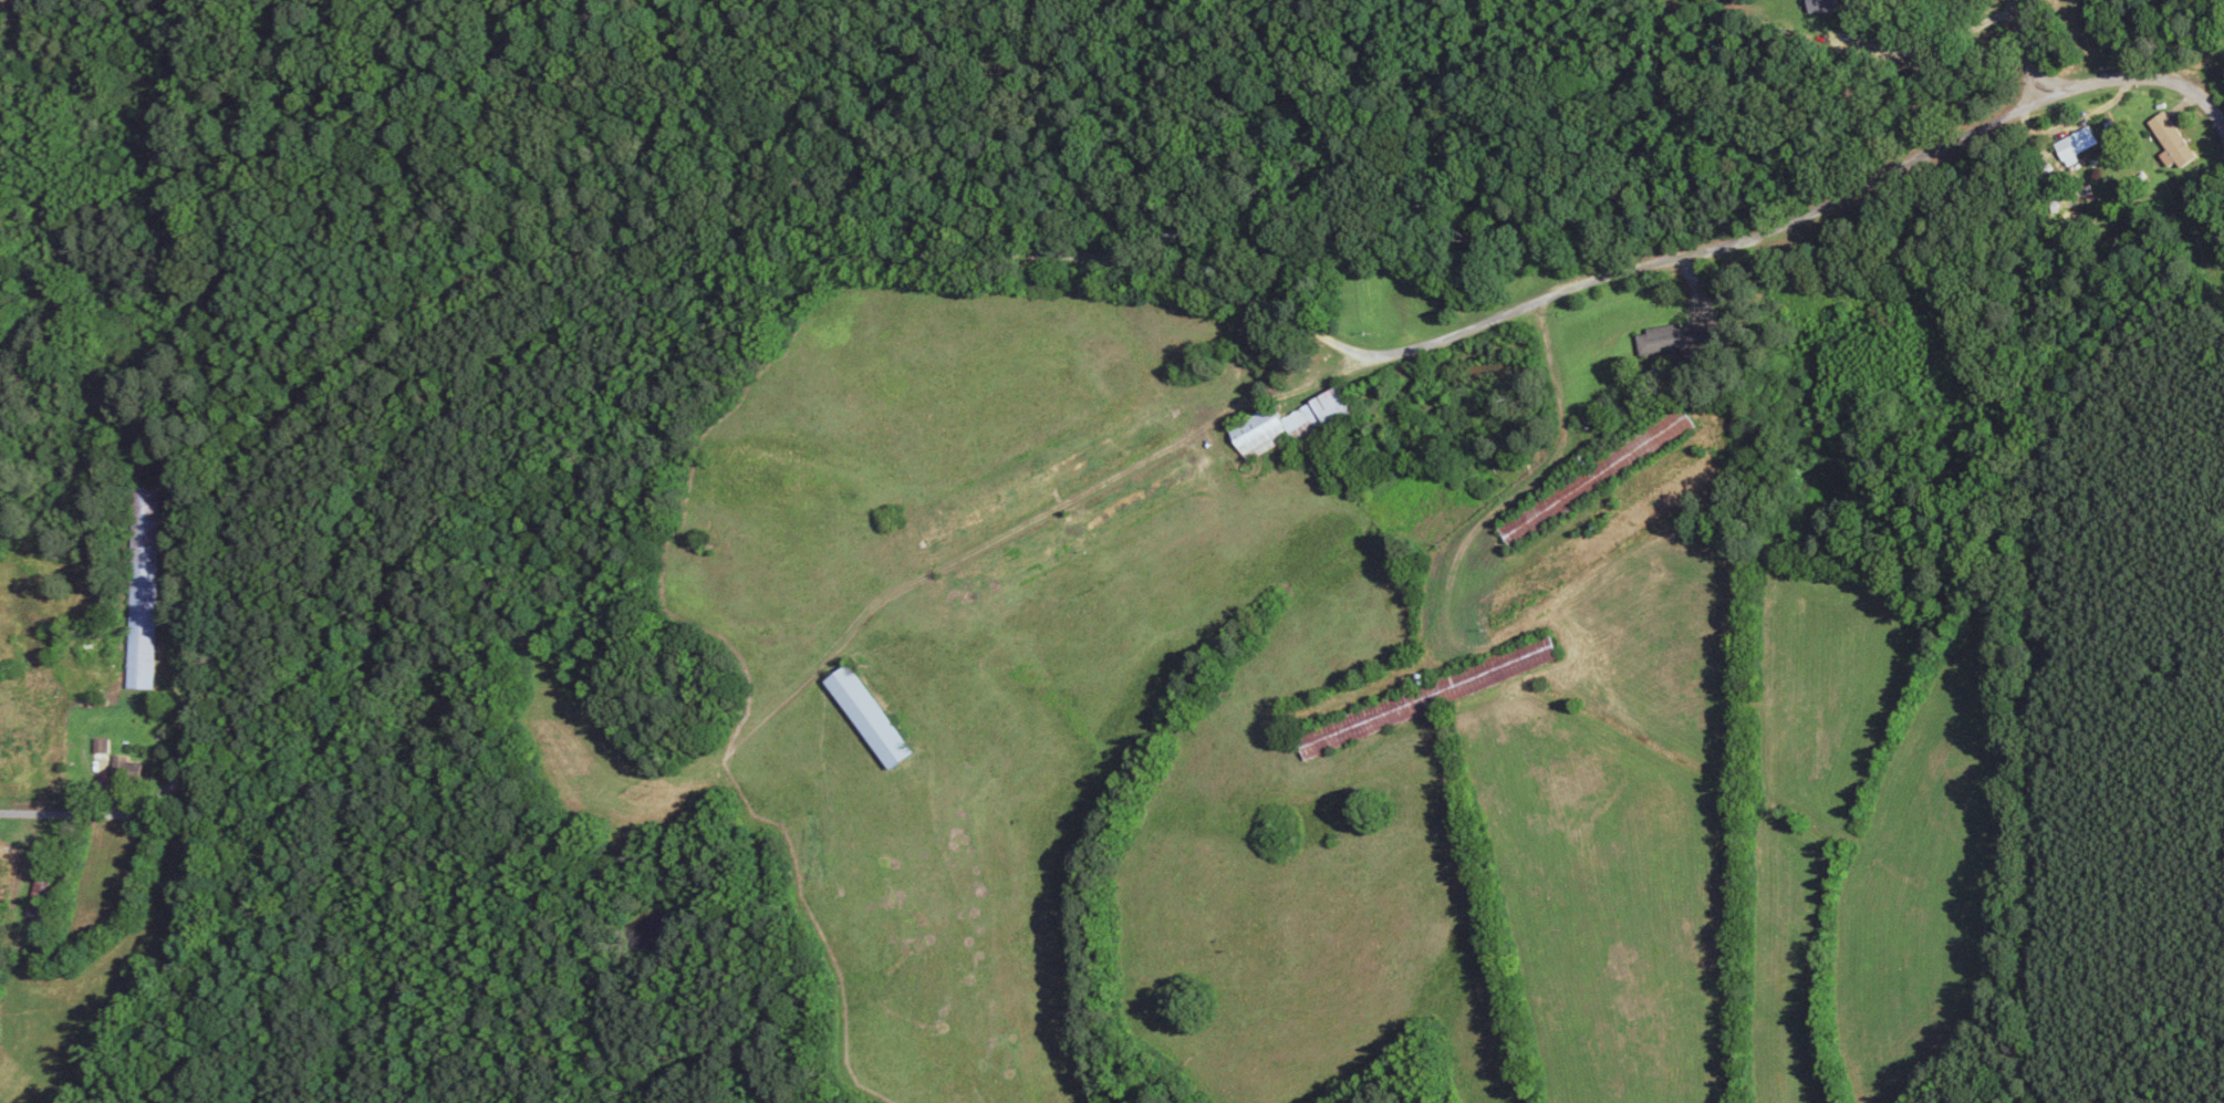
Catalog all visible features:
building: (1818, 7)
road: (2041, 49)
building: (2168, 141)
building: (2072, 146)
road: (986, 277)
building: (1372, 296)
building: (1671, 341)
building: (1288, 426)
building: (1592, 479)
building: (1644, 512)
building: (138, 587)
building: (40, 693)
building: (1422, 698)
building: (863, 717)
building: (3, 871)
building: (32, 903)

